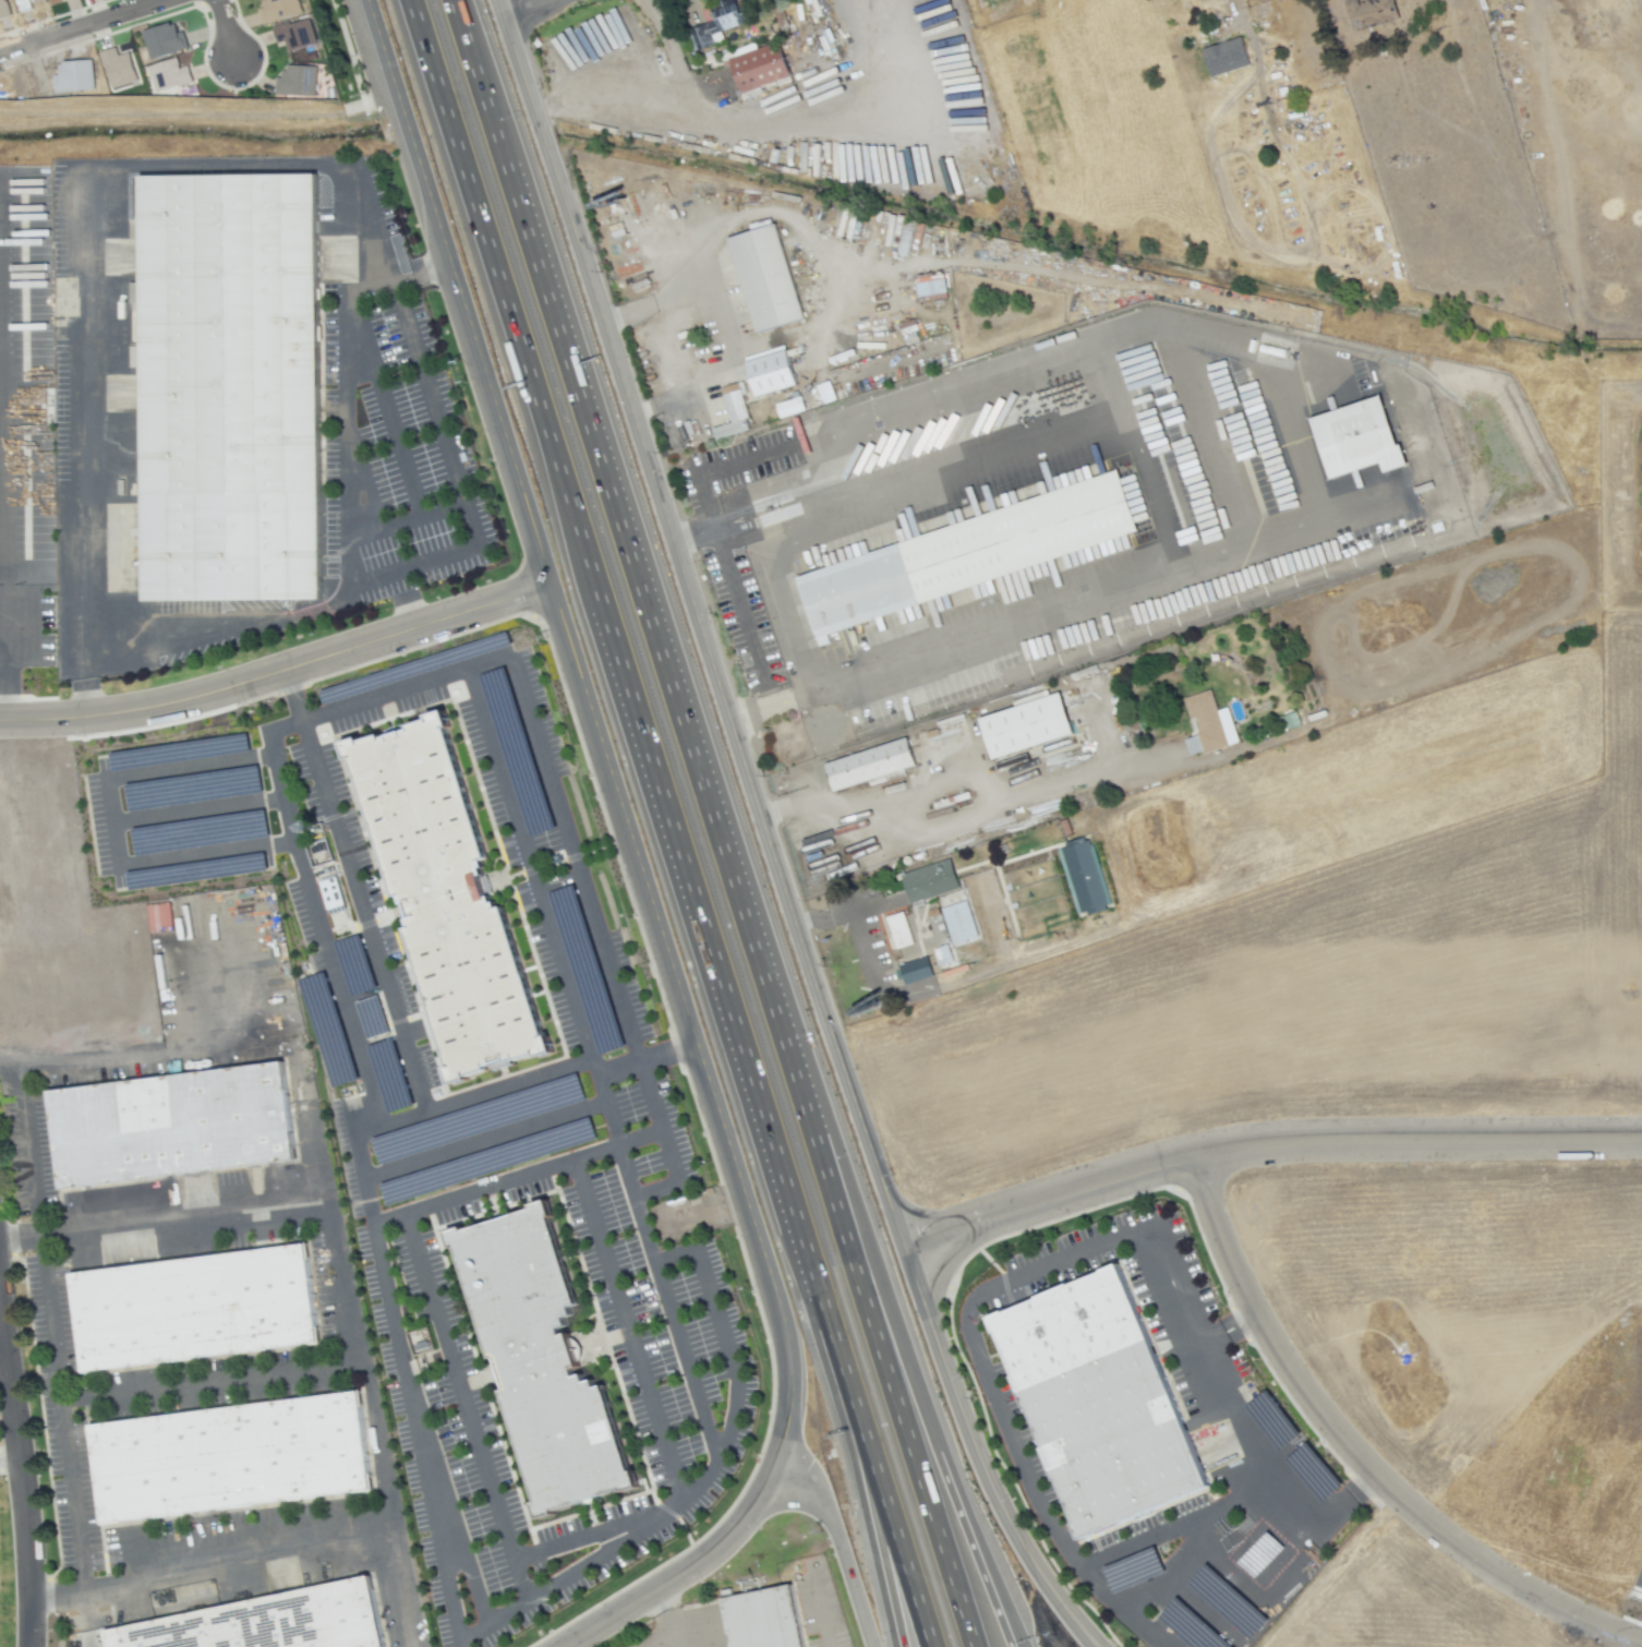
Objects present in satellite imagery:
building: (21, 4)
road: (1235, 7)
building: (3, 10)
building: (278, 10)
road: (534, 11)
building: (1374, 12)
building: (715, 24)
road: (80, 27)
road: (222, 32)
building: (294, 34)
building: (164, 40)
building: (1230, 57)
road: (481, 64)
building: (758, 67)
building: (118, 68)
building: (168, 74)
building: (73, 76)
building: (295, 81)
road: (651, 88)
road: (428, 264)
building: (771, 276)
building: (930, 287)
road: (492, 289)
building: (134, 292)
road: (457, 292)
road: (1185, 360)
building: (773, 373)
road: (966, 381)
building: (228, 386)
road: (385, 402)
building: (733, 412)
building: (1366, 437)
road: (952, 453)
road: (822, 460)
road: (452, 476)
road: (775, 507)
road: (401, 521)
road: (711, 525)
road: (77, 527)
building: (1109, 546)
building: (971, 554)
road: (394, 581)
road: (782, 593)
road: (402, 611)
road: (1028, 618)
road: (697, 621)
road: (1, 628)
building: (412, 668)
road: (673, 670)
road: (79, 671)
road: (278, 672)
road: (2, 684)
road: (802, 697)
road: (81, 698)
road: (760, 709)
building: (1207, 724)
building: (1033, 725)
building: (178, 752)
building: (876, 765)
building: (192, 789)
road: (970, 798)
road: (772, 814)
building: (198, 832)
building: (195, 870)
building: (1082, 878)
building: (929, 880)
building: (328, 885)
road: (352, 890)
building: (458, 900)
road: (585, 903)
road: (855, 914)
building: (158, 917)
building: (958, 923)
building: (898, 930)
road: (547, 931)
building: (915, 971)
road: (713, 990)
road: (689, 1023)
road: (667, 1051)
road: (73, 1058)
road: (492, 1090)
building: (176, 1127)
road: (28, 1144)
road: (1265, 1145)
road: (514, 1177)
road: (335, 1264)
building: (186, 1303)
road: (1252, 1319)
road: (1224, 1325)
road: (626, 1331)
road: (721, 1334)
road: (1228, 1334)
building: (533, 1350)
road: (904, 1354)
road: (405, 1391)
road: (106, 1398)
building: (1092, 1402)
road: (463, 1406)
road: (1235, 1410)
road: (909, 1430)
building: (224, 1453)
road: (10, 1455)
road: (1359, 1455)
road: (975, 1456)
road: (22, 1467)
road: (1031, 1488)
road: (76, 1523)
road: (871, 1525)
road: (886, 1525)
road: (1155, 1536)
road: (578, 1540)
road: (832, 1547)
road: (236, 1560)
road: (674, 1564)
building: (1133, 1570)
road: (979, 1575)
road: (1266, 1595)
road: (88, 1616)
building: (754, 1616)
building: (261, 1620)
road: (823, 1621)

